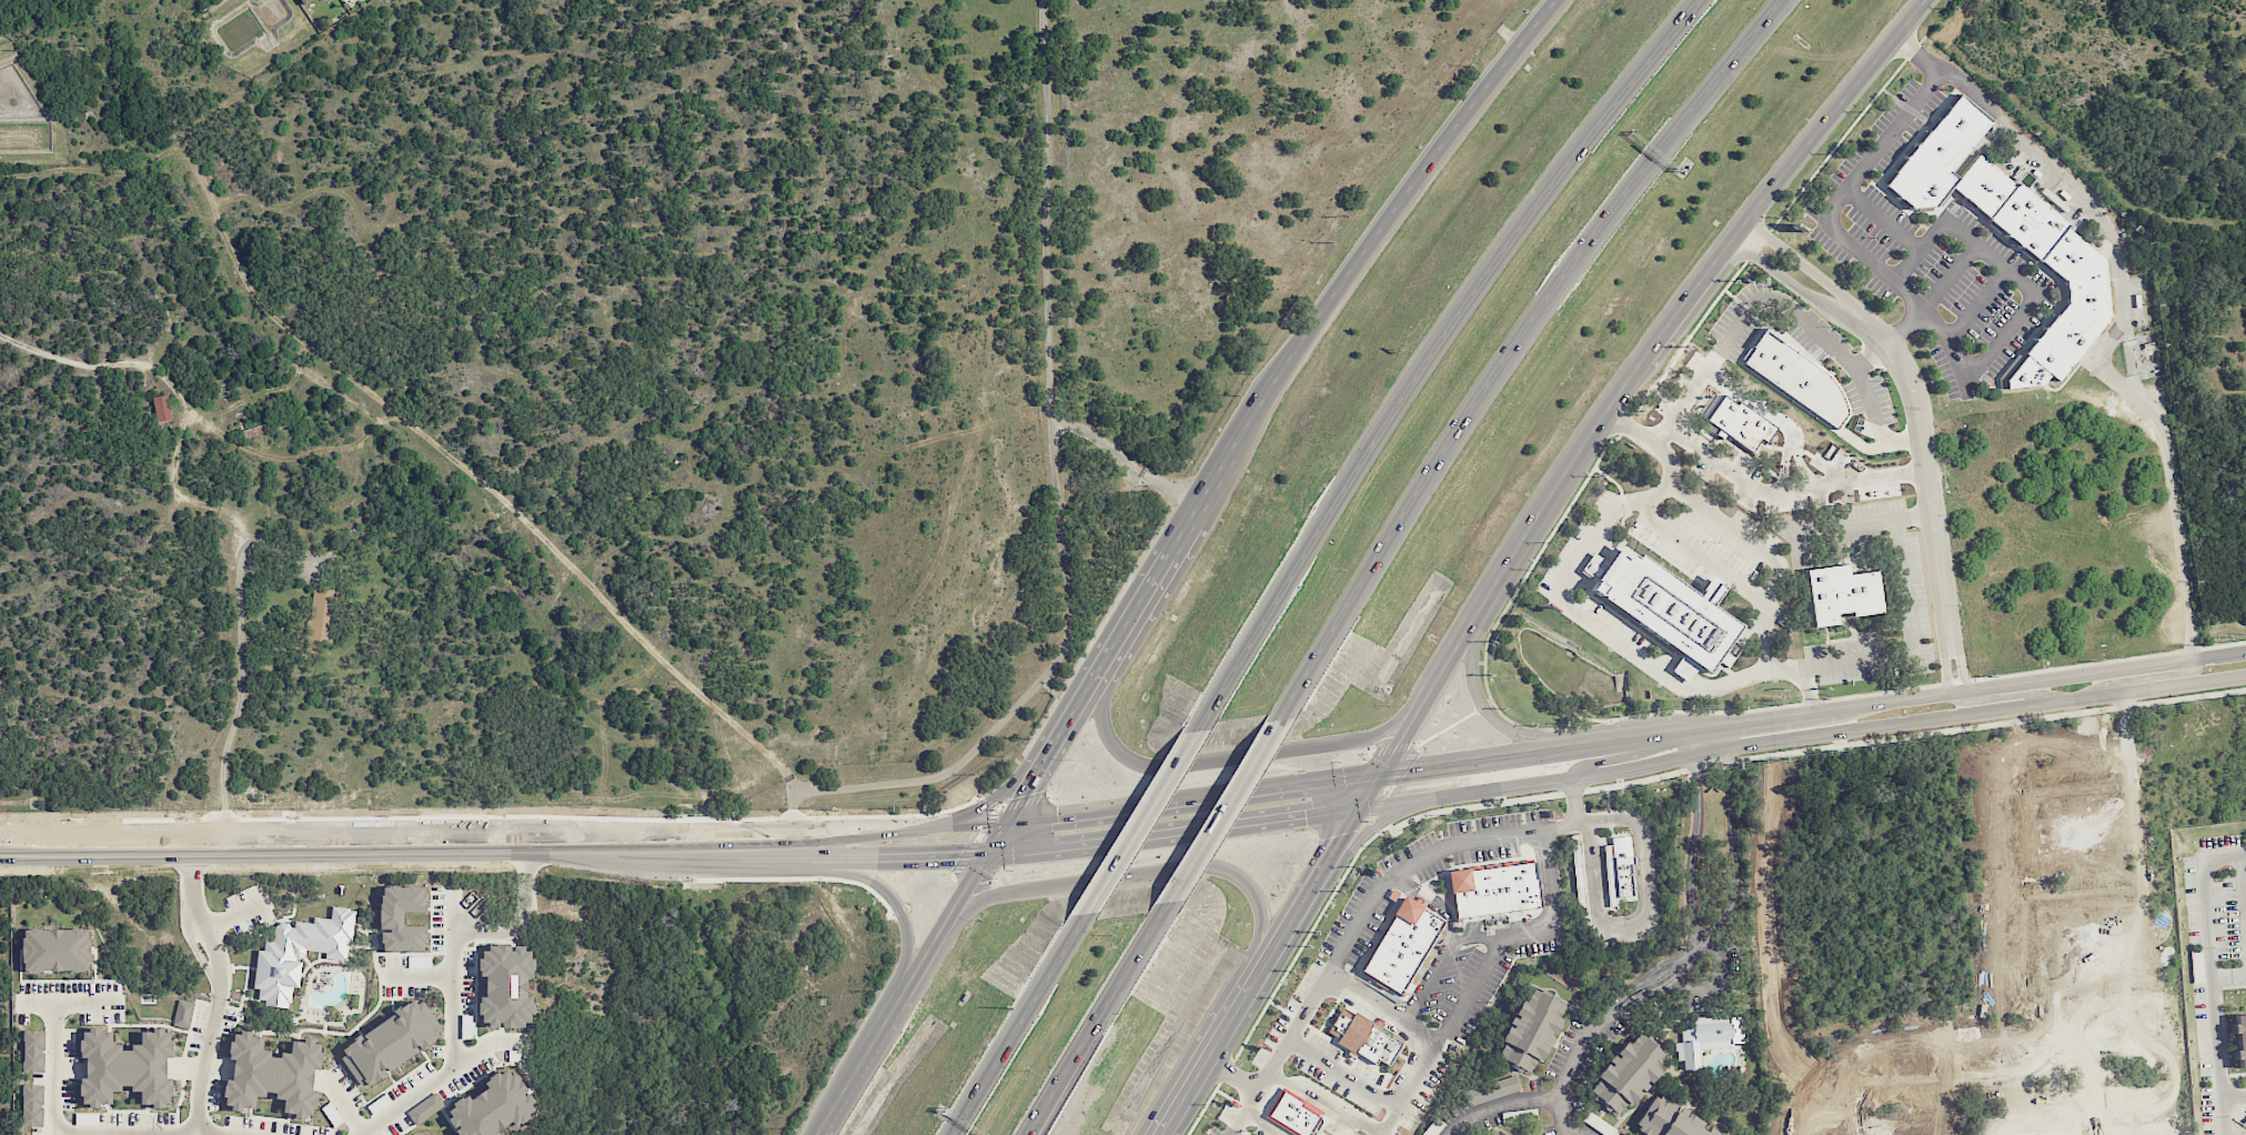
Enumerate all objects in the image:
building: (304, 1)
road: (1820, 129)
building: (1937, 154)
road: (1883, 220)
road: (1837, 234)
road: (1366, 243)
road: (1809, 268)
road: (2003, 268)
building: (2078, 269)
road: (1790, 283)
road: (1933, 297)
road: (1684, 302)
road: (1976, 304)
road: (1750, 314)
road: (2123, 314)
road: (1510, 348)
road: (1432, 351)
building: (1795, 376)
crop: (628, 380)
road: (1874, 401)
building: (162, 408)
road: (1598, 424)
road: (436, 446)
road: (1124, 458)
road: (1925, 475)
road: (1777, 489)
road: (1055, 502)
road: (1845, 524)
road: (1185, 528)
road: (1741, 534)
road: (1162, 562)
road: (1725, 573)
road: (1487, 590)
building: (1841, 592)
road: (1559, 599)
building: (1668, 606)
road: (1130, 615)
building: (321, 616)
road: (1912, 639)
road: (2105, 660)
road: (1962, 664)
road: (1945, 666)
road: (2164, 675)
road: (1810, 690)
road: (2000, 697)
road: (1078, 701)
road: (238, 703)
road: (1487, 712)
road: (1814, 712)
road: (1409, 725)
road: (1803, 736)
road: (1804, 749)
road: (1238, 756)
road: (1607, 761)
traffic signals: (1411, 769)
traffic signals: (1027, 787)
road: (1021, 795)
road: (1196, 796)
road: (988, 798)
road: (1575, 800)
road: (1220, 811)
traffic signals: (1062, 814)
traffic signals: (1303, 814)
road: (1142, 818)
road: (1353, 820)
road: (1379, 823)
road: (815, 826)
road: (1177, 827)
traffic signals: (1347, 832)
road: (1694, 832)
road: (1731, 833)
road: (1484, 836)
road: (396, 846)
traffic signals: (951, 852)
road: (85, 853)
road: (806, 854)
building: (1622, 865)
building: (1578, 873)
road: (1129, 875)
road: (2244, 878)
road: (525, 888)
building: (1491, 888)
road: (2143, 891)
road: (887, 893)
road: (1433, 900)
road: (959, 901)
road: (427, 908)
parking lot: (248, 910)
road: (452, 911)
road: (232, 916)
building: (402, 917)
parking lot: (437, 917)
road: (430, 921)
road: (202, 924)
road: (1289, 925)
road: (379, 930)
road: (427, 930)
road: (482, 932)
road: (486, 941)
building: (1398, 945)
road: (192, 946)
road: (361, 946)
building: (57, 950)
road: (457, 950)
road: (447, 951)
building: (299, 952)
road: (436, 952)
road: (381, 953)
road: (319, 955)
road: (1443, 958)
road: (305, 960)
road: (319, 960)
parking lot: (395, 961)
building: (420, 961)
road: (310, 965)
road: (239, 966)
road: (1669, 968)
road: (420, 973)
road: (383, 974)
road: (2213, 974)
road: (914, 975)
road: (2229, 975)
road: (1710, 981)
parking lot: (466, 982)
road: (244, 984)
road: (380, 985)
building: (506, 985)
parking lot: (404, 990)
road: (252, 998)
road: (37, 1002)
road: (215, 1004)
road: (392, 1008)
road: (1386, 1010)
road: (474, 1011)
road: (1462, 1011)
road: (370, 1013)
building: (183, 1014)
road: (1094, 1018)
road: (190, 1021)
parking lot: (229, 1021)
road: (1018, 1024)
parking lot: (197, 1025)
building: (466, 1026)
road: (1227, 1026)
building: (1528, 1028)
road: (323, 1029)
road: (283, 1033)
road: (360, 1033)
road: (259, 1034)
building: (1708, 1035)
road: (52, 1036)
building: (1361, 1036)
road: (296, 1037)
building: (2240, 1039)
building: (390, 1042)
road: (485, 1043)
road: (873, 1043)
building: (33, 1051)
parking lot: (437, 1051)
building: (514, 1055)
road: (1575, 1056)
road: (453, 1057)
road: (202, 1065)
building: (127, 1067)
road: (182, 1067)
building: (1625, 1071)
building: (273, 1074)
road: (390, 1075)
road: (479, 1076)
parking lot: (465, 1077)
road: (397, 1081)
parking lot: (410, 1082)
parking lot: (348, 1085)
road: (2235, 1095)
parking lot: (212, 1096)
road: (179, 1101)
building: (379, 1103)
road: (1179, 1103)
road: (1329, 1103)
road: (341, 1104)
building: (32, 1105)
building: (492, 1106)
road: (1499, 1106)
building: (424, 1108)
road: (1240, 1108)
road: (832, 1112)
building: (1292, 1113)
building: (332, 1114)
parking lot: (134, 1118)
road: (374, 1118)
building: (1669, 1119)
road: (1261, 1121)
road: (1391, 1121)
parking lot: (395, 1125)
parking lot: (275, 1126)
road: (405, 1128)
road: (1573, 1129)
road: (144, 1131)
road: (1230, 1133)
road: (401, 1134)
building: (424, 1134)
building: (1505, 1134)

